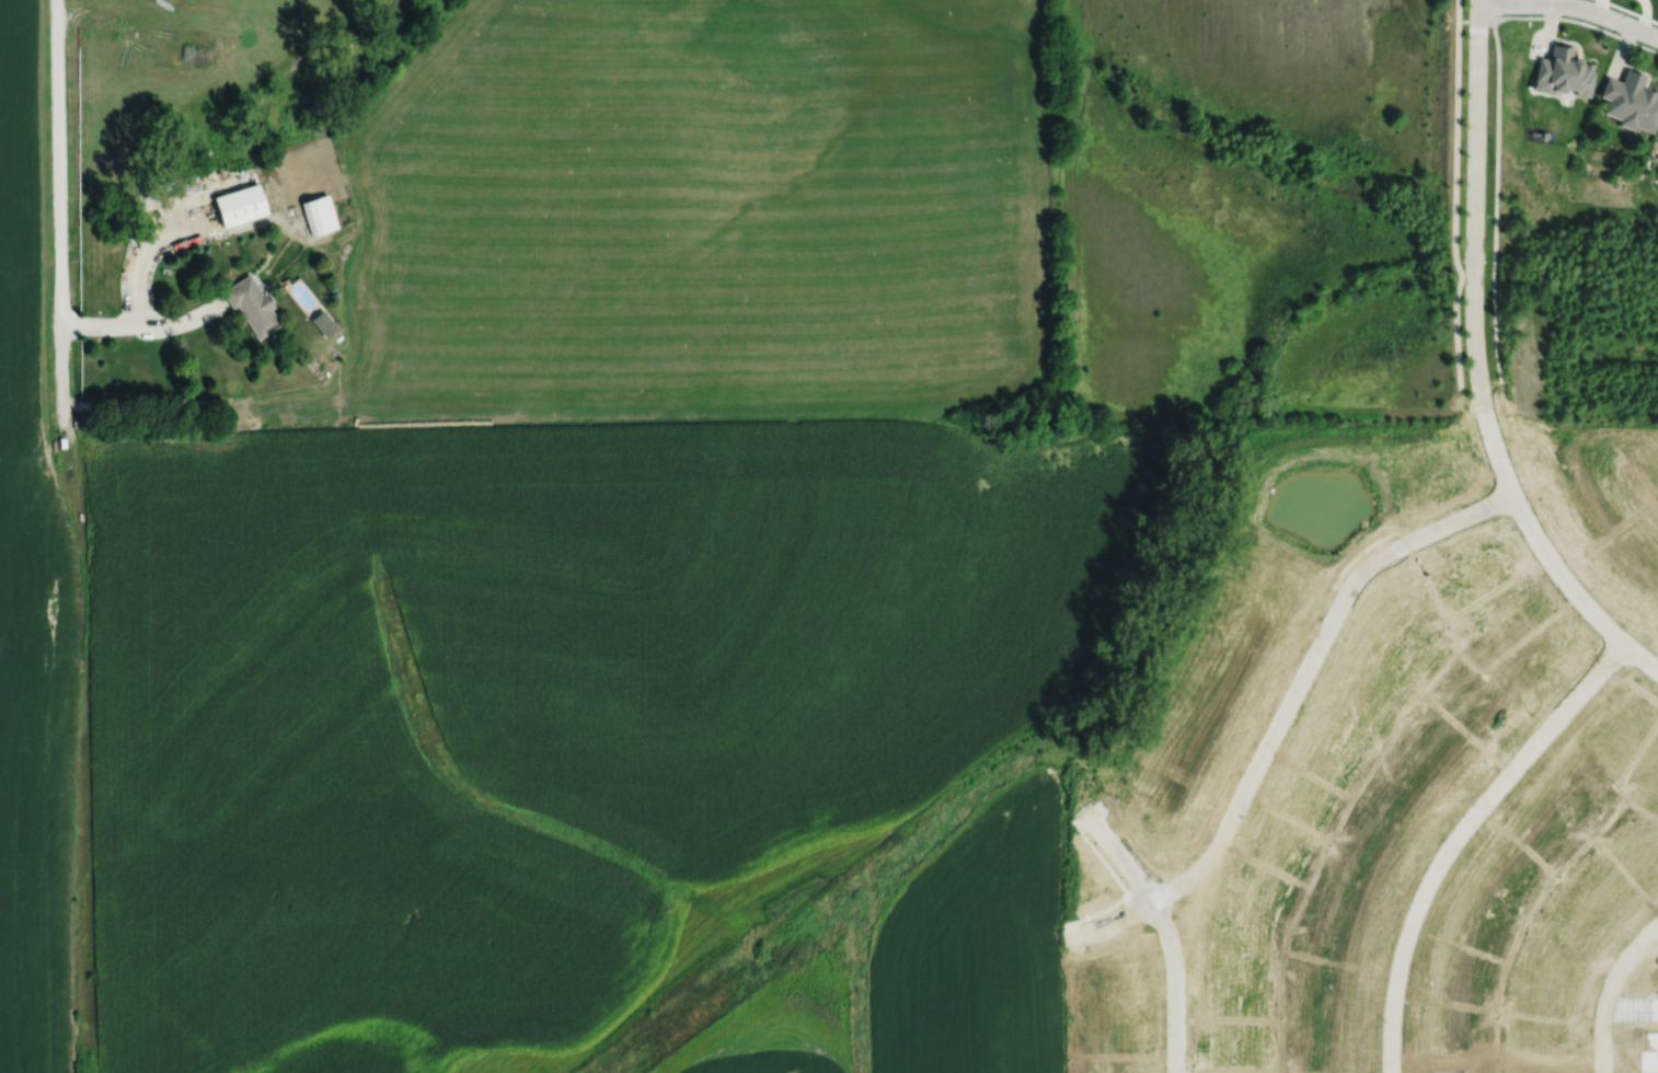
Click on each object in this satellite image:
road: (1571, 4)
road: (1459, 10)
road: (1494, 11)
road: (1476, 22)
building: (1562, 71)
building: (1628, 101)
road: (1455, 204)
road: (1475, 204)
road: (1497, 204)
building: (241, 205)
road: (55, 212)
building: (321, 215)
road: (137, 303)
building: (254, 305)
road: (176, 322)
building: (324, 322)
road: (1579, 355)
building: (1581, 458)
building: (1432, 466)
road: (1546, 555)
building: (1654, 593)
road: (1283, 713)
road: (1462, 840)
road: (1165, 931)
road: (1610, 989)

